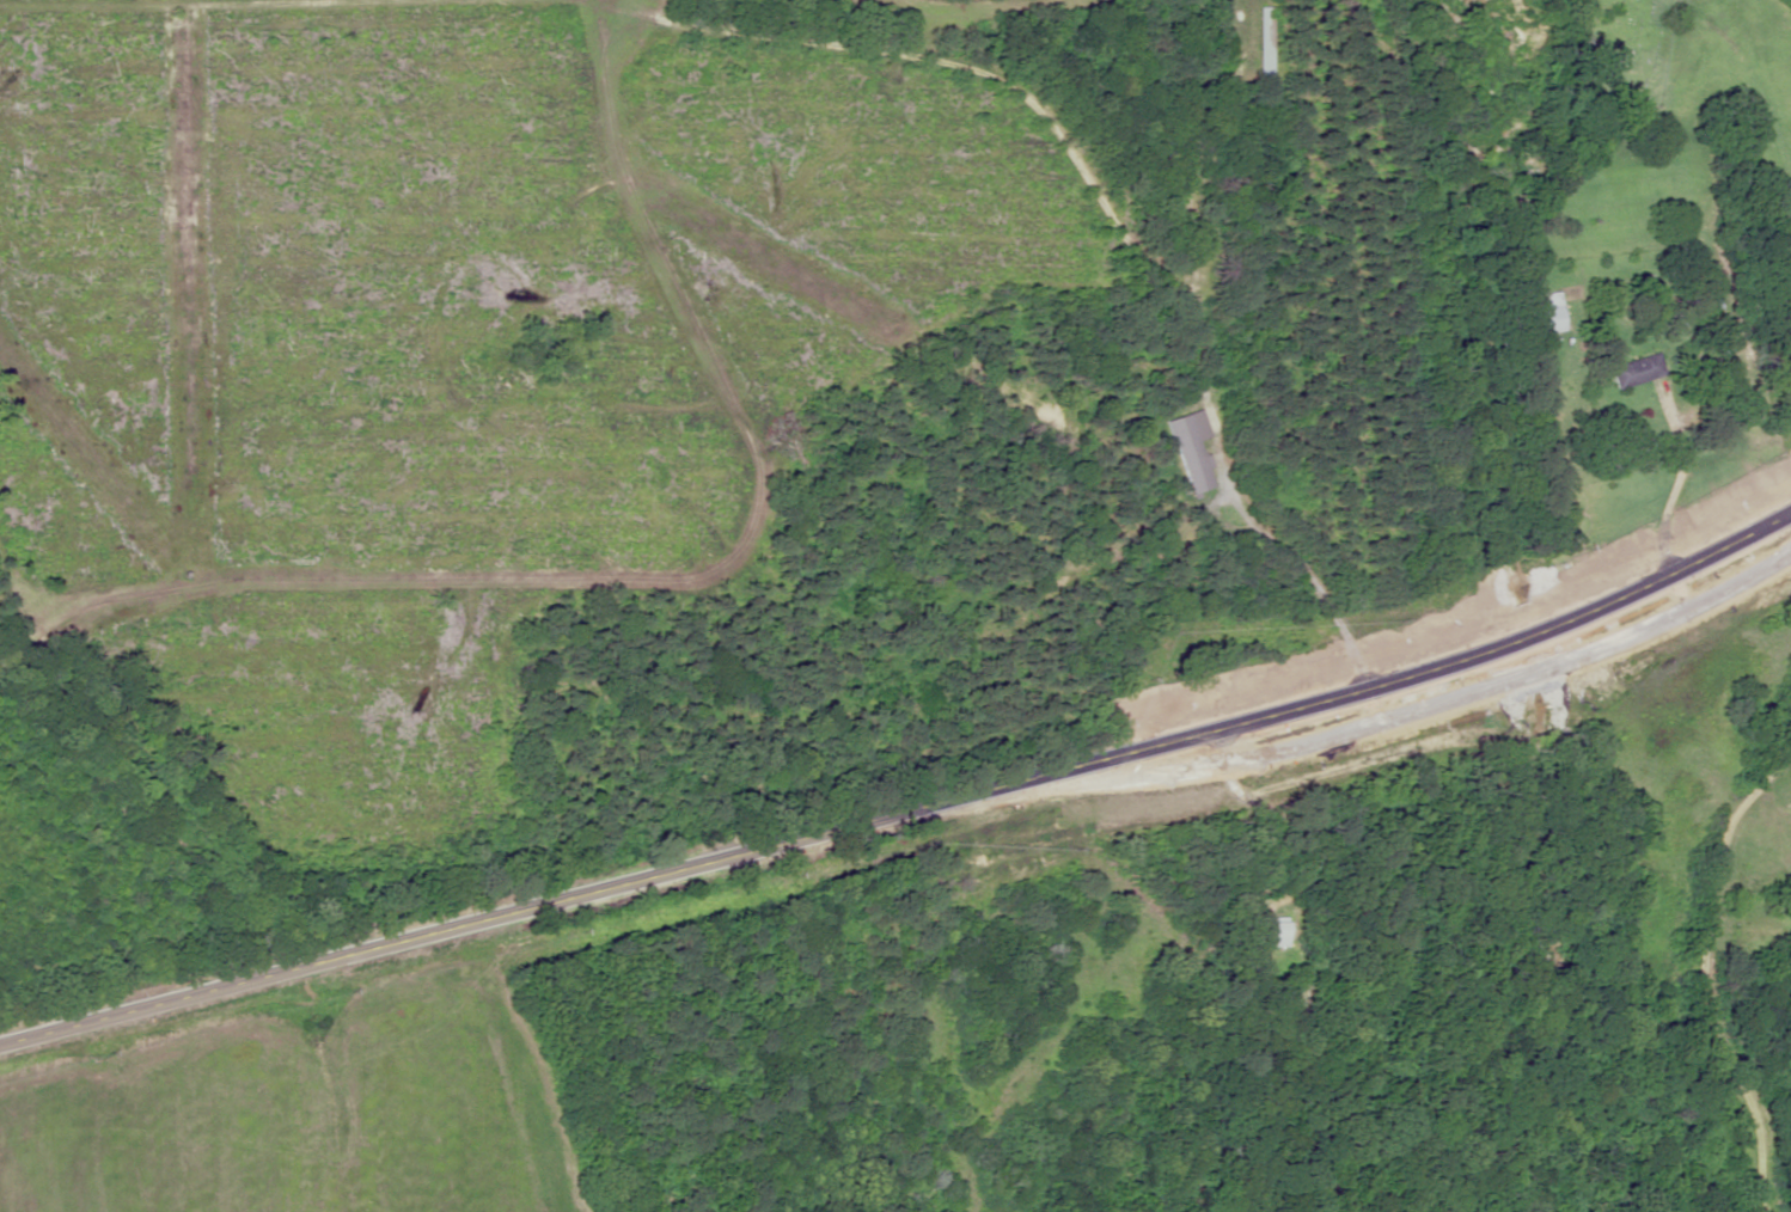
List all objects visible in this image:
building: (1551, 314)
road: (1202, 360)
building: (1640, 373)
building: (1191, 454)
road: (905, 814)
road: (1722, 905)
building: (1759, 930)
building: (1276, 935)

